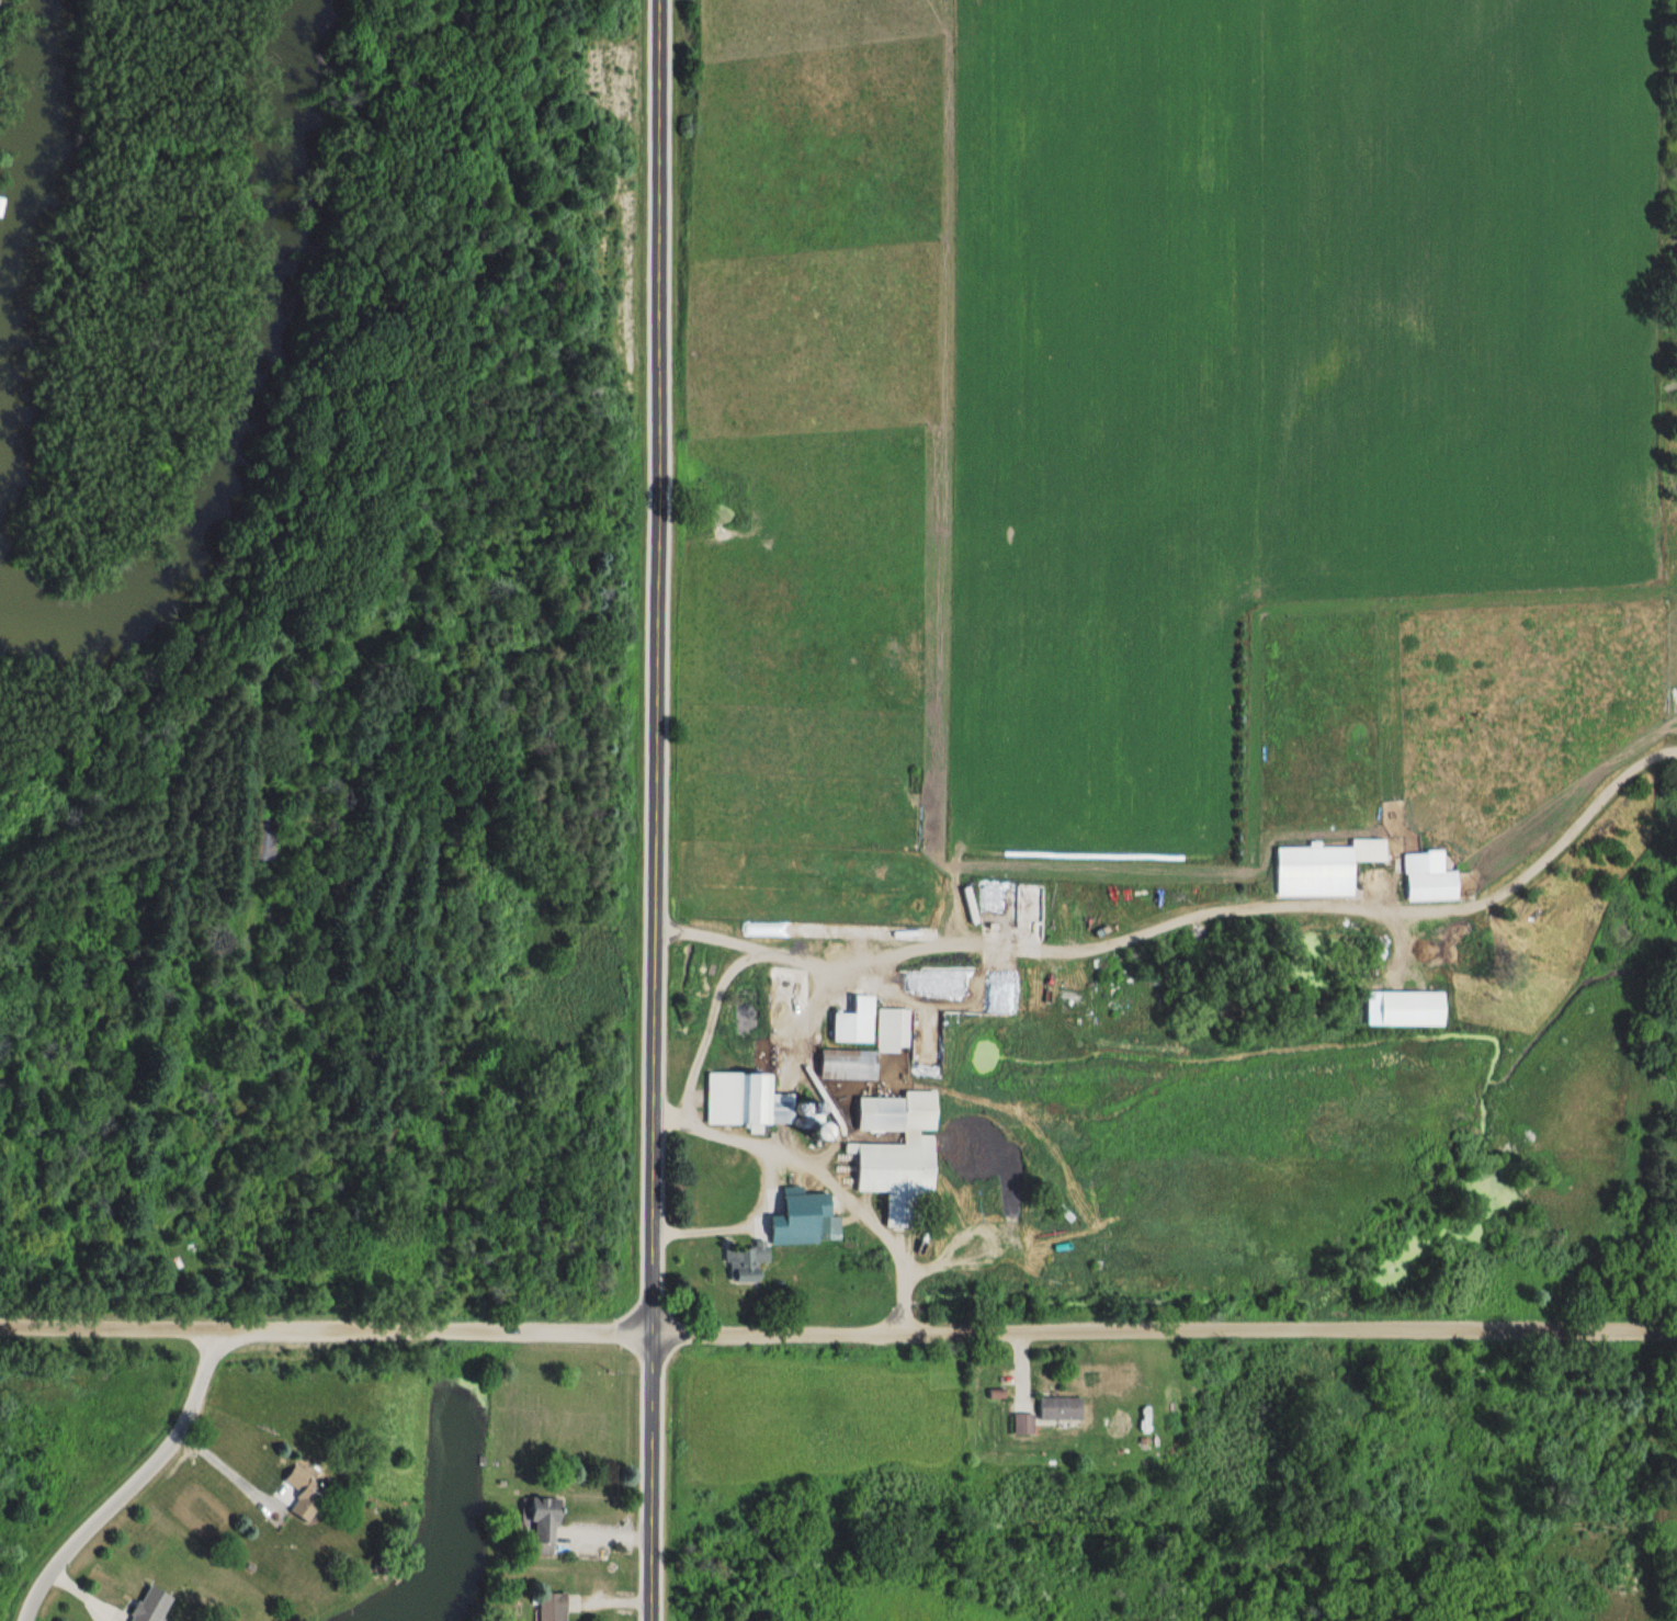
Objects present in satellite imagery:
road: (657, 810)
building: (261, 839)
building: (1322, 869)
building: (1426, 882)
road: (1005, 941)
building: (849, 1029)
building: (891, 1030)
road: (704, 1033)
building: (744, 1102)
building: (895, 1155)
road: (761, 1183)
road: (866, 1218)
building: (828, 1227)
building: (800, 1228)
building: (745, 1263)
road: (838, 1335)
building: (1058, 1408)
building: (1021, 1424)
road: (228, 1471)
road: (136, 1483)
building: (301, 1494)
building: (541, 1526)
building: (146, 1605)
building: (549, 1607)

